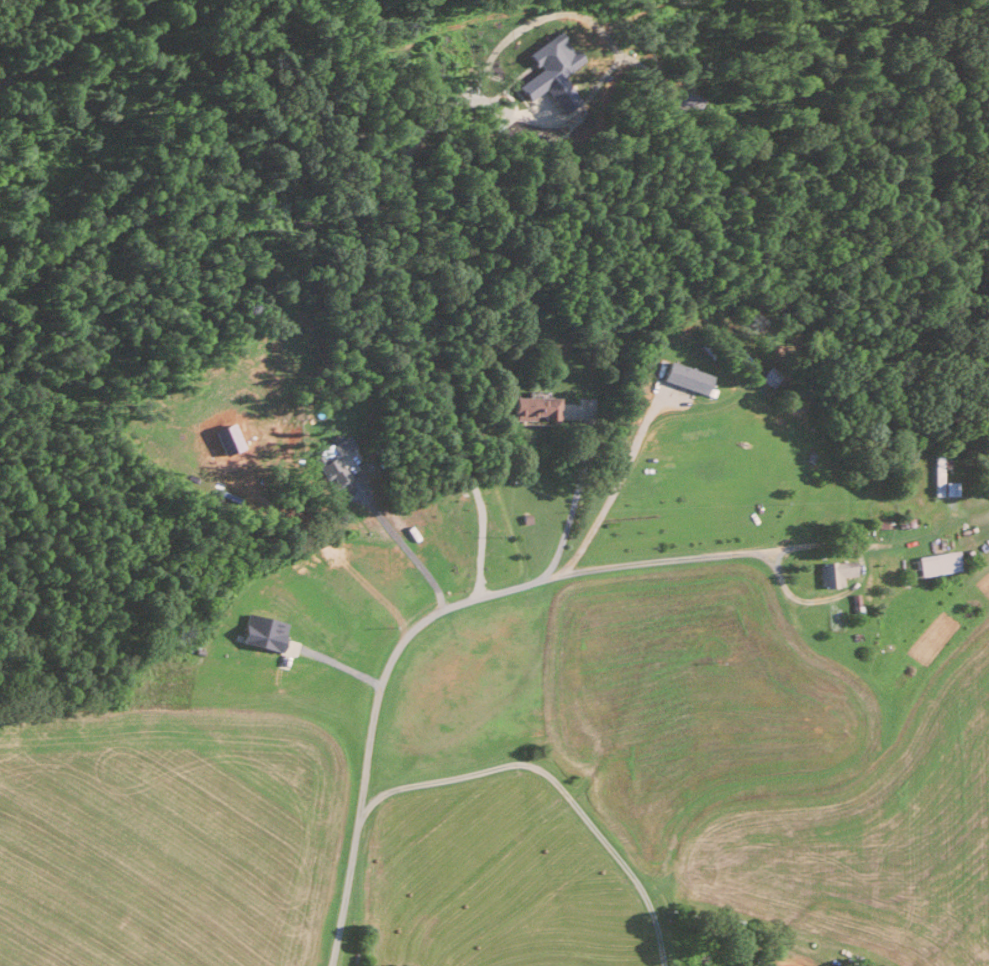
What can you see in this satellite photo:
building: (550, 70)
road: (423, 300)
building: (684, 377)
building: (531, 407)
building: (334, 460)
building: (936, 474)
road: (611, 491)
road: (568, 510)
road: (892, 541)
road: (404, 547)
road: (333, 549)
building: (936, 562)
building: (832, 572)
road: (442, 605)
building: (259, 632)
road: (333, 661)
road: (553, 778)

